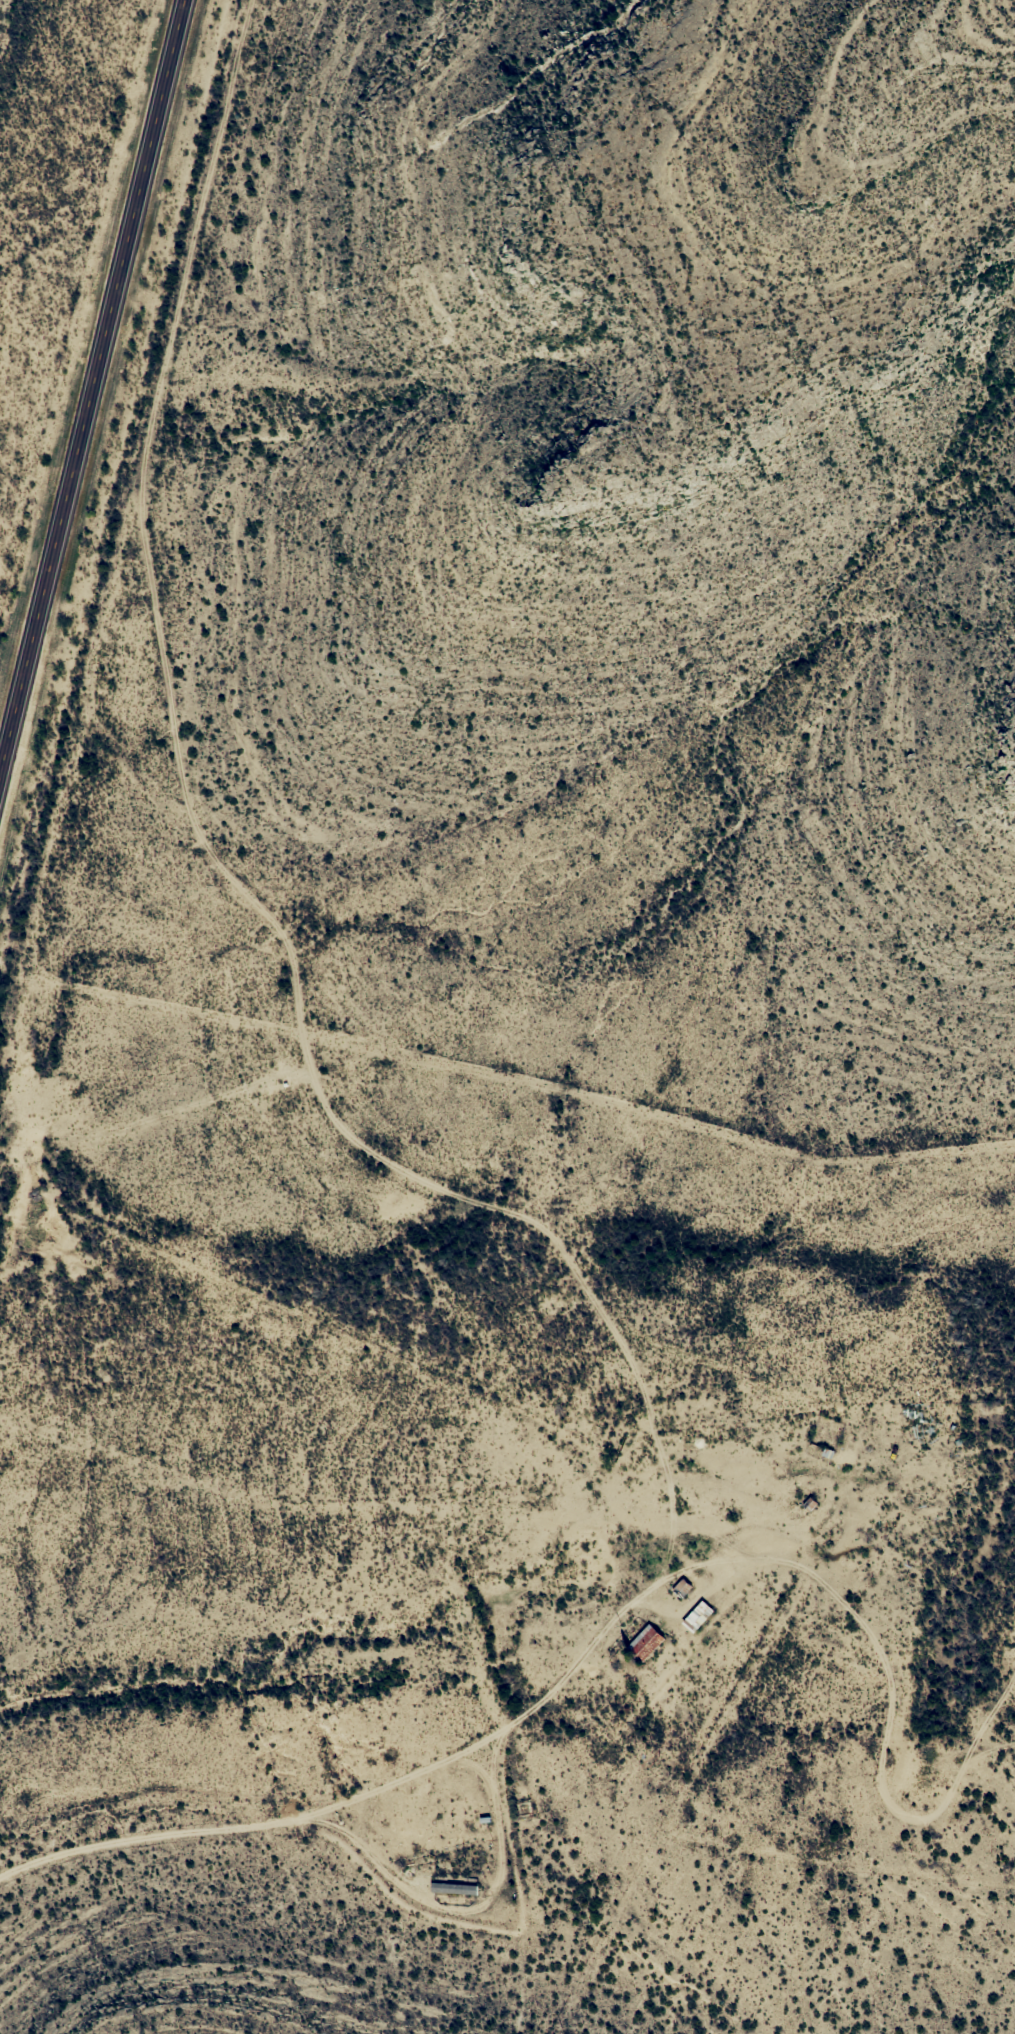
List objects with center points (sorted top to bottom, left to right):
road: (91, 383)
building: (810, 1505)
building: (682, 1588)
road: (615, 1613)
building: (697, 1616)
building: (645, 1643)
building: (454, 1883)

